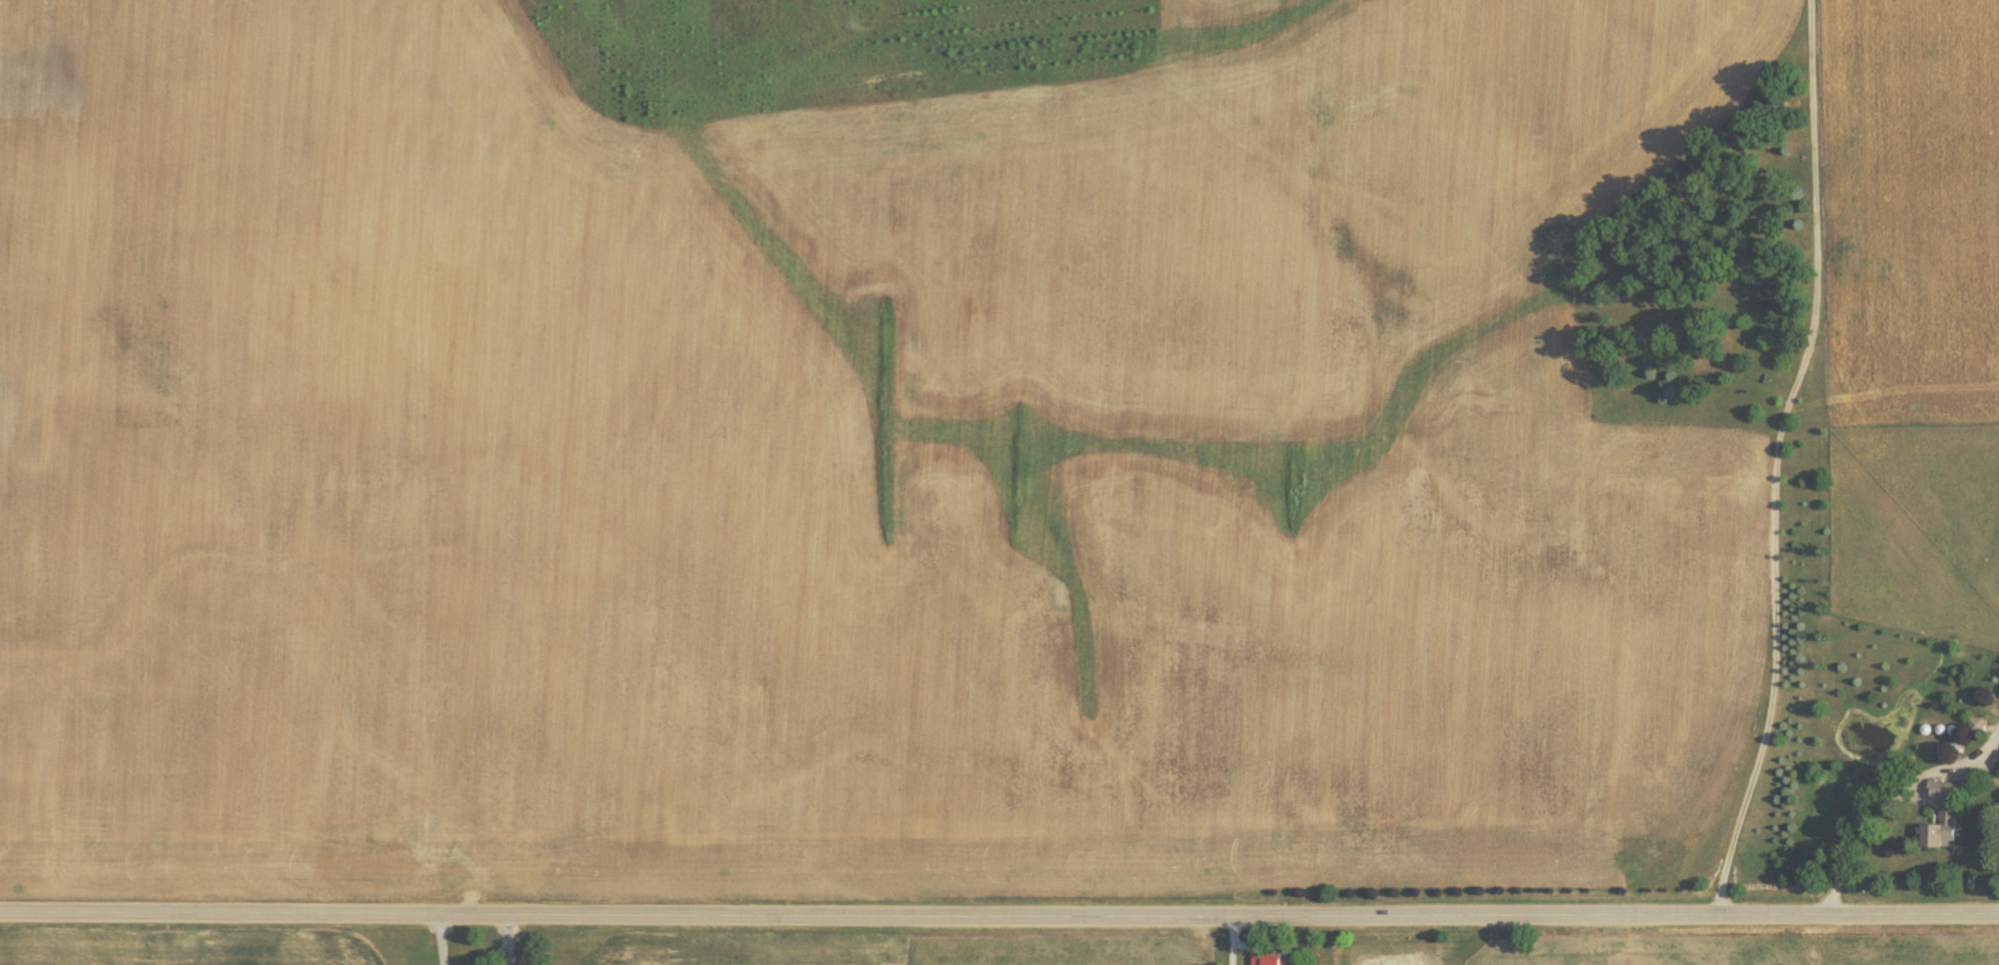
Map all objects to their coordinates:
crop: (1911, 210)
building: (1976, 722)
building: (1938, 788)
building: (1940, 829)
road: (999, 915)
building: (1264, 958)

